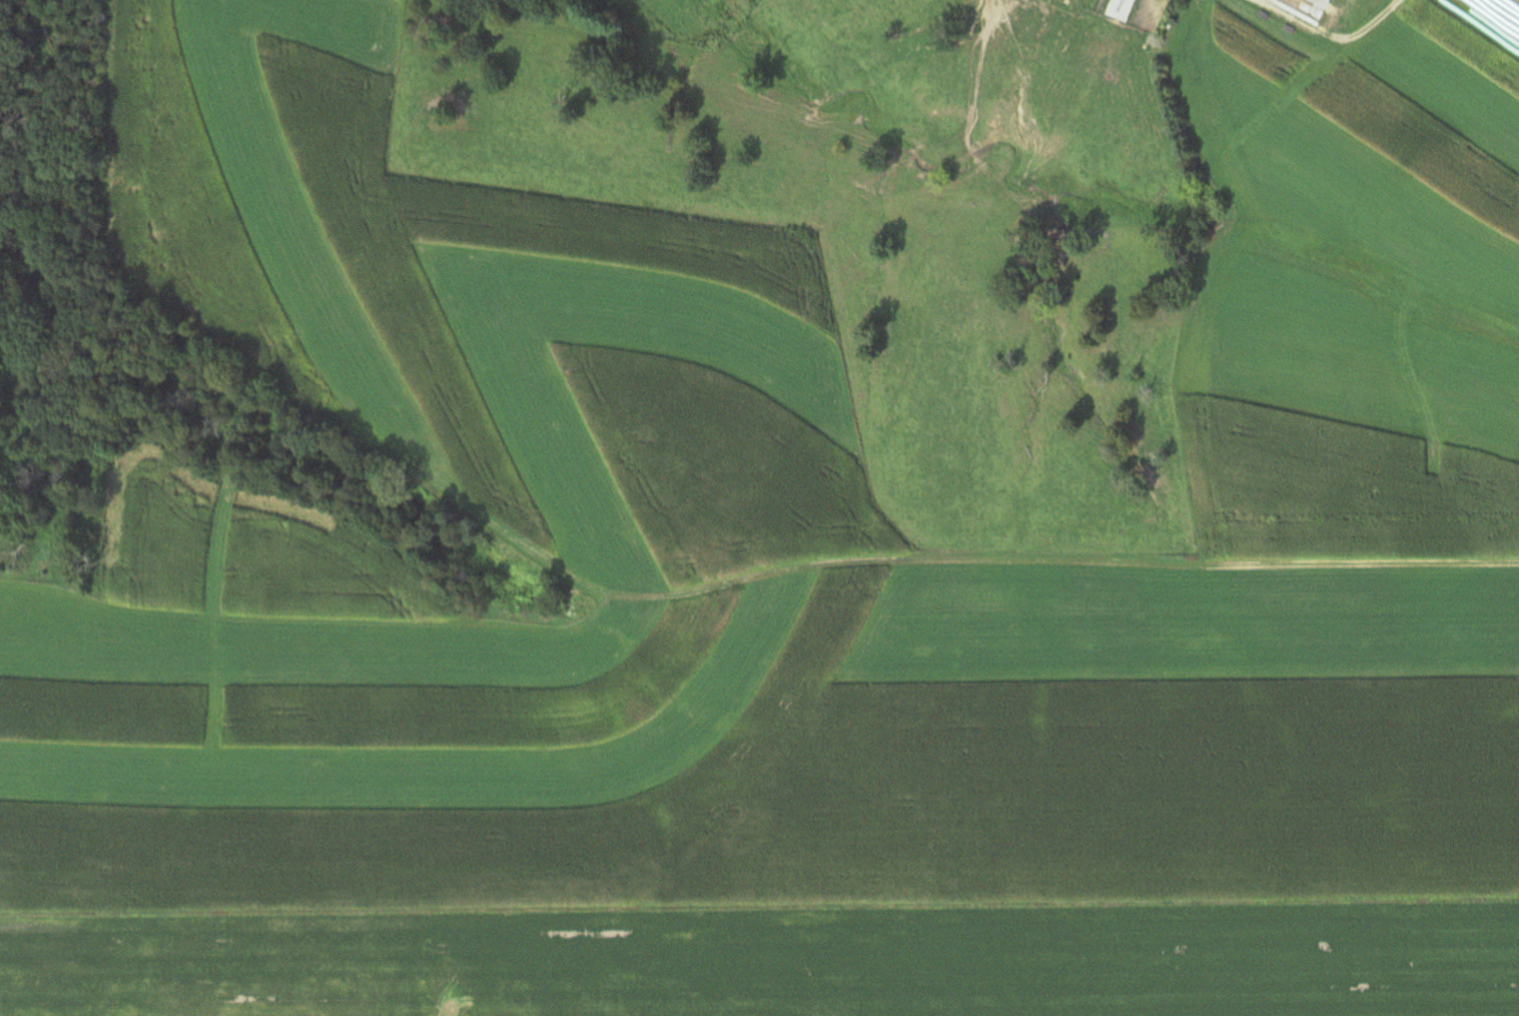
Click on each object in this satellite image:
building: (1329, 0)

